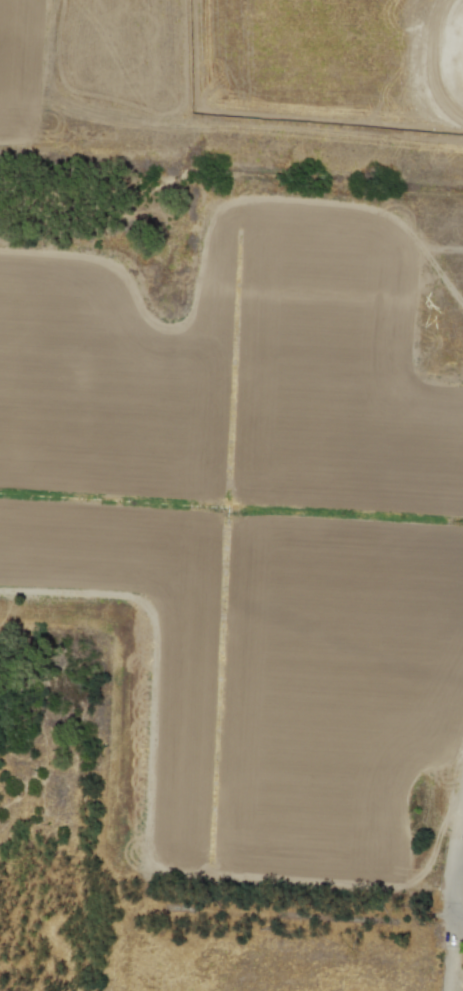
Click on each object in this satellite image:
road: (460, 898)
road: (460, 923)

